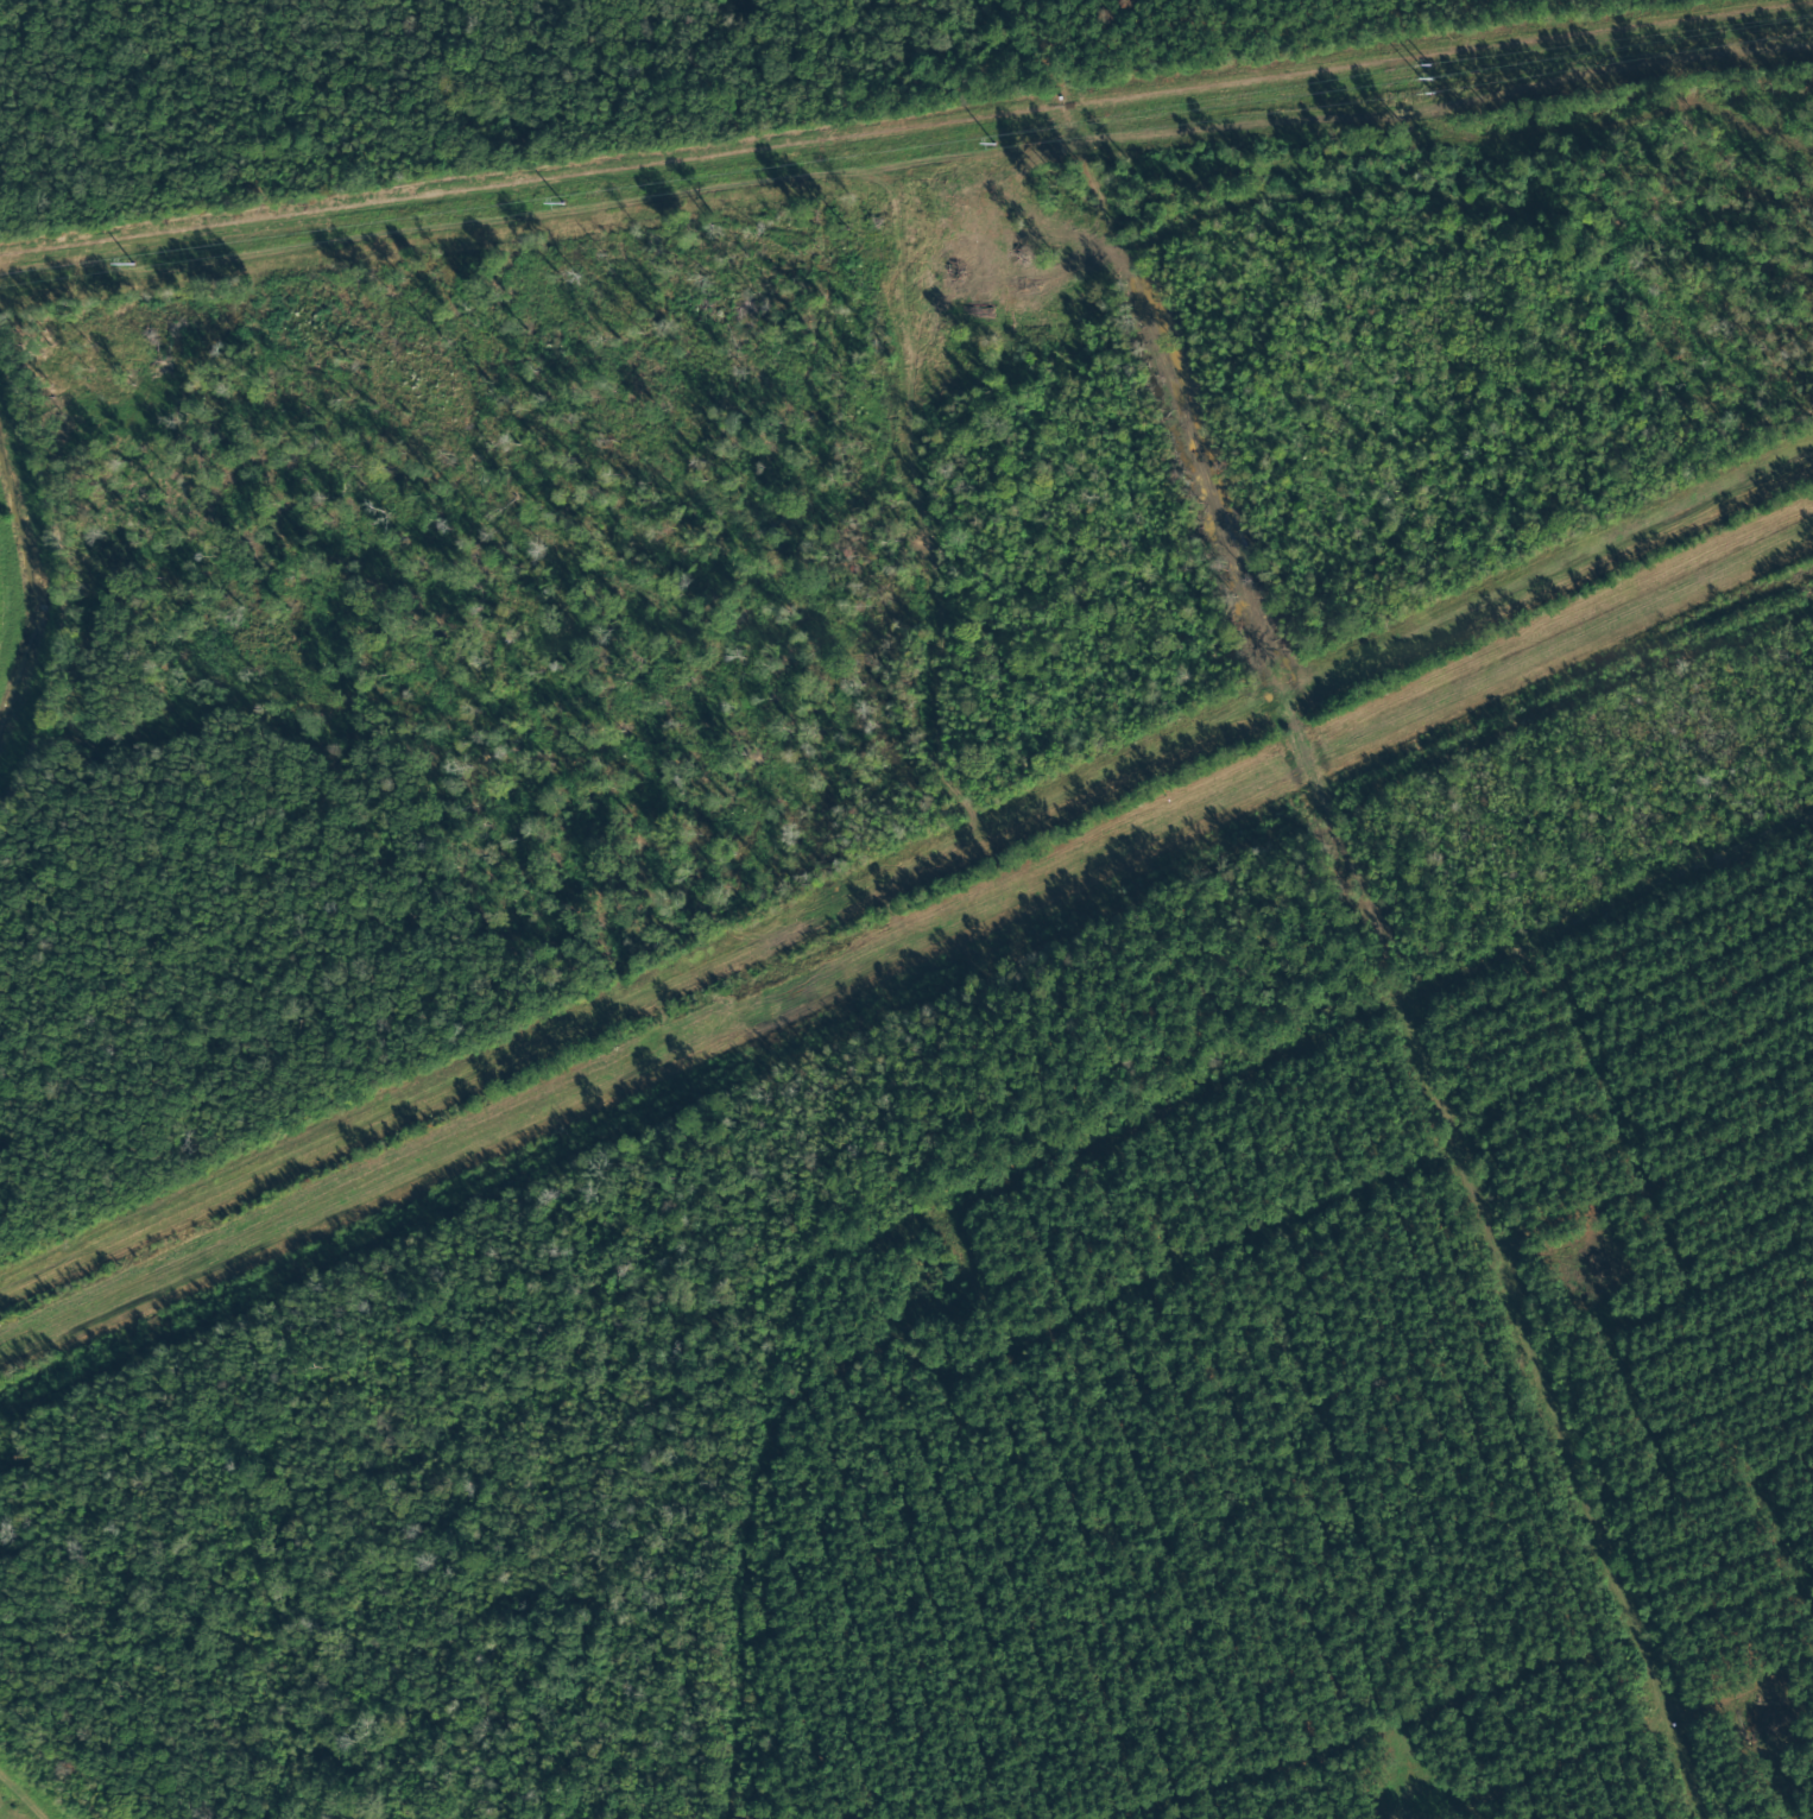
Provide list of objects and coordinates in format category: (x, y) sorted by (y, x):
power tower: (1435, 87)

